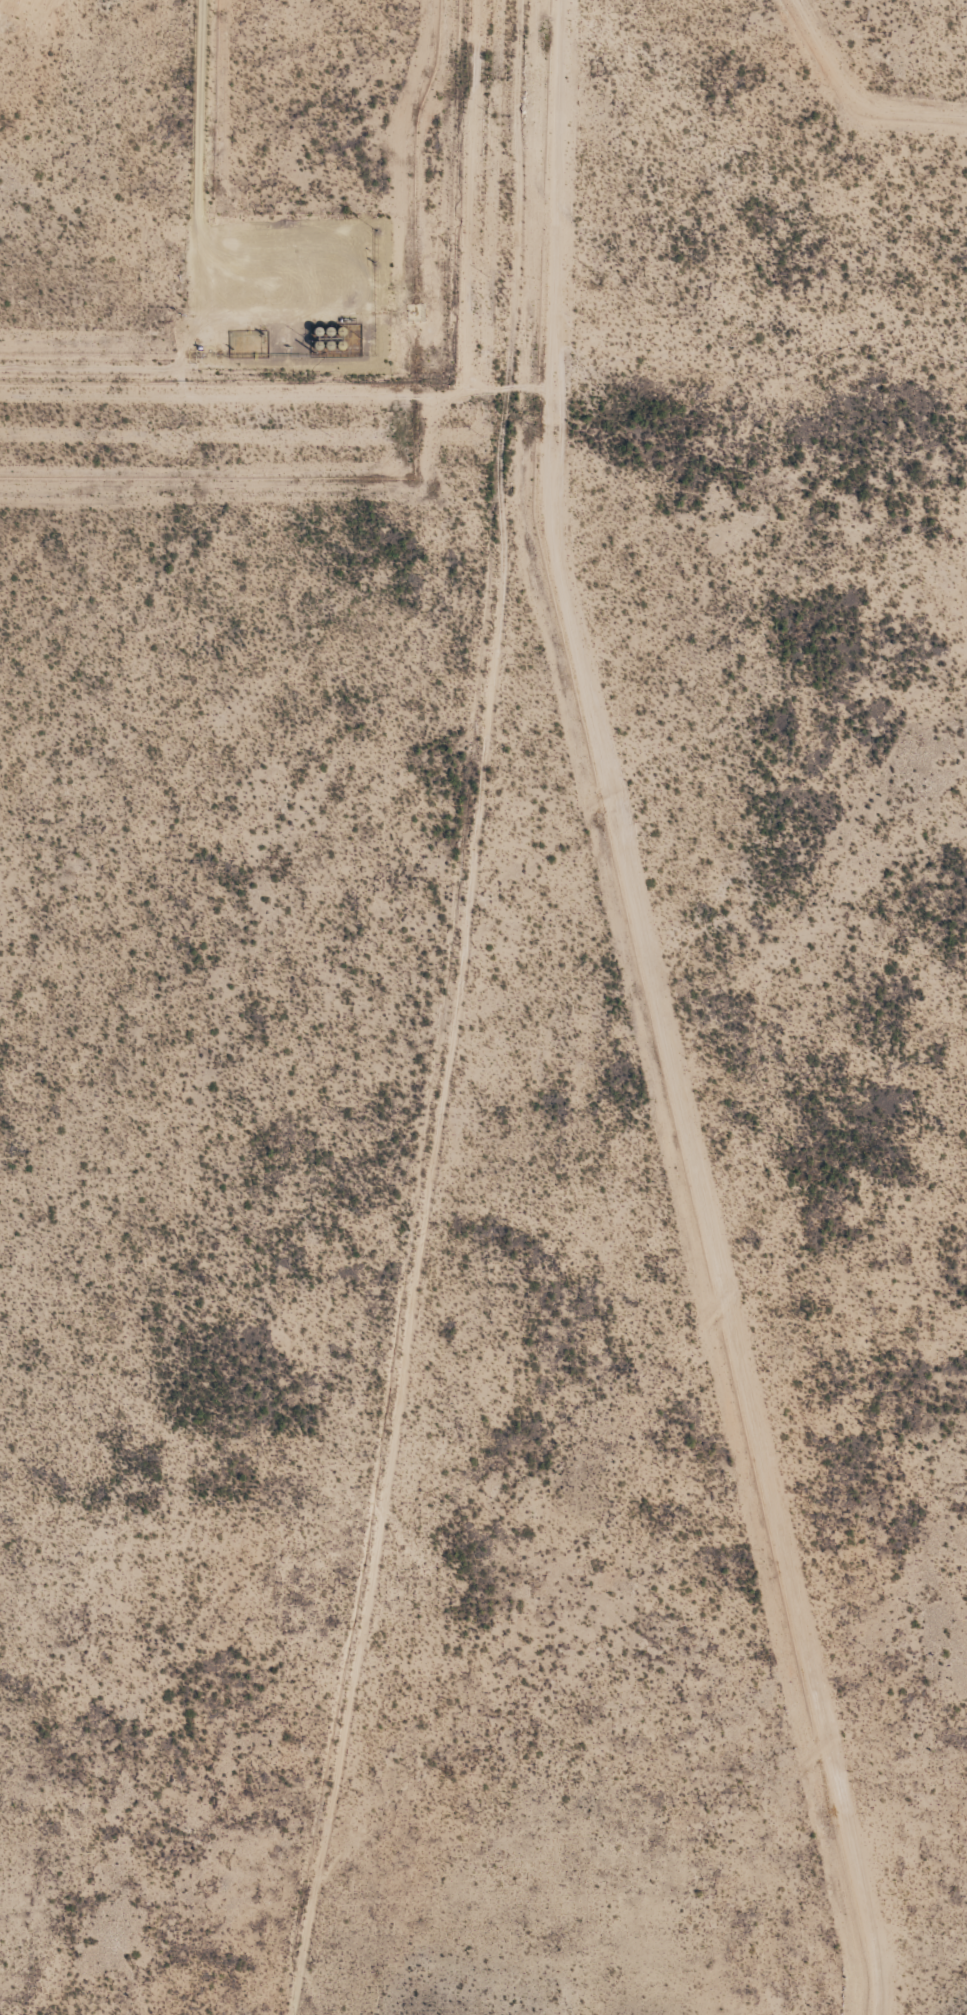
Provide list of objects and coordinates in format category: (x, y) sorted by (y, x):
road: (454, 1012)

